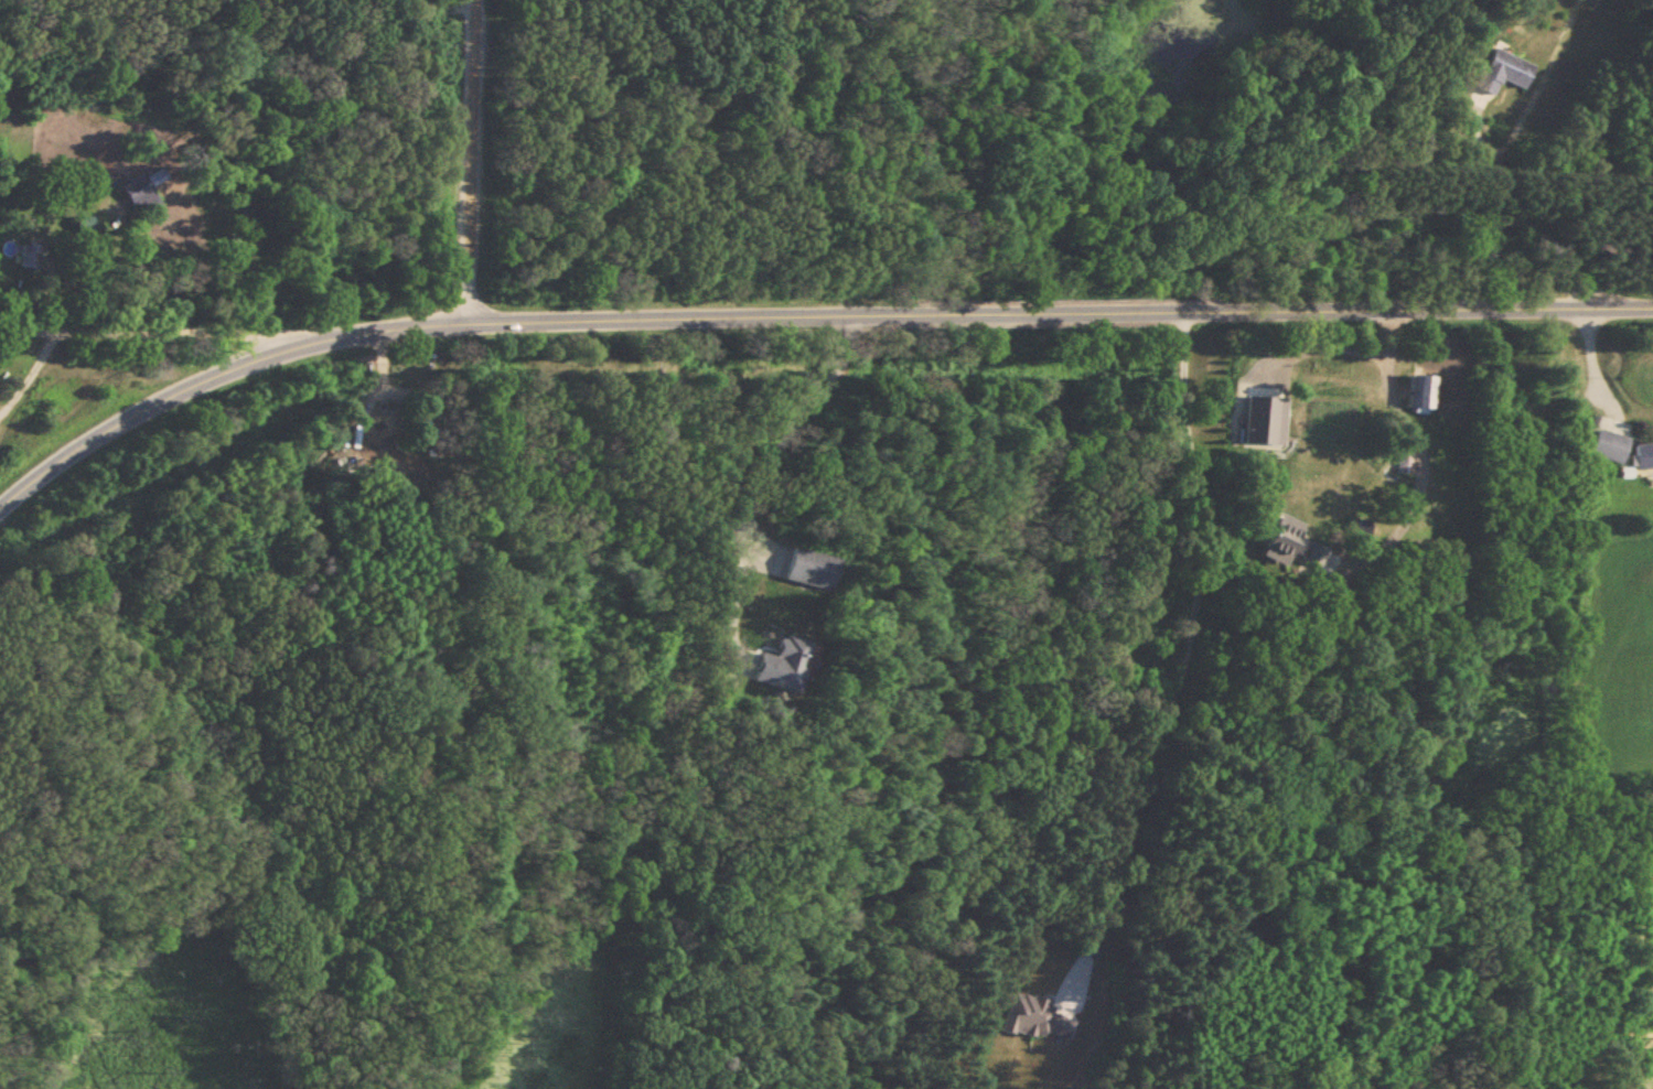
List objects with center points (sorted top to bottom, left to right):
building: (1503, 71)
road: (468, 157)
building: (142, 192)
road: (1518, 217)
building: (83, 224)
building: (28, 257)
road: (1576, 306)
road: (925, 310)
road: (175, 323)
road: (1319, 347)
road: (33, 364)
road: (1589, 365)
road: (165, 392)
building: (1423, 392)
building: (385, 431)
building: (1610, 445)
road: (1425, 454)
building: (1644, 456)
road: (769, 457)
building: (1406, 460)
building: (1291, 541)
building: (811, 570)
road: (1184, 651)
building: (783, 662)
building: (1026, 1015)

